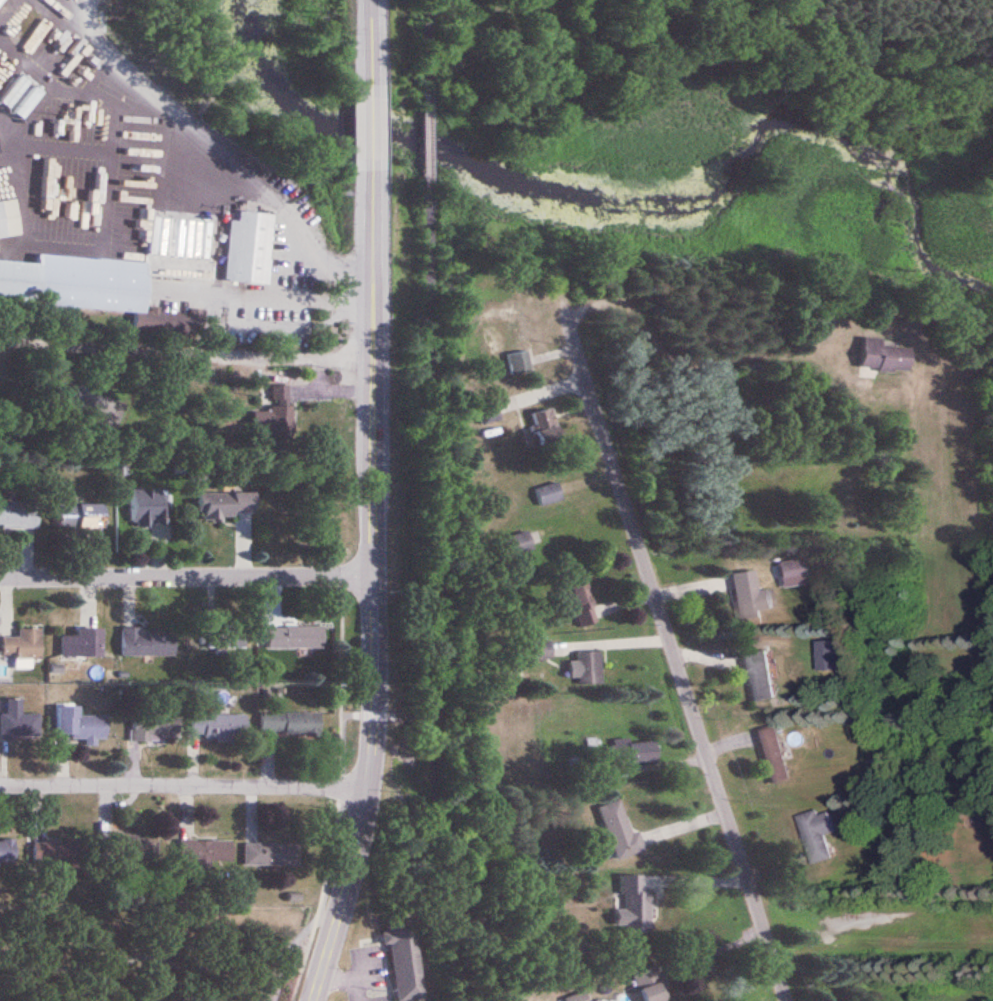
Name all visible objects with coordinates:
building: (1, 2)
road: (427, 46)
road: (370, 49)
road: (371, 129)
building: (45, 135)
road: (429, 142)
road: (193, 186)
building: (9, 219)
building: (250, 249)
building: (90, 289)
building: (516, 347)
road: (185, 349)
building: (886, 357)
road: (696, 363)
building: (276, 413)
building: (546, 429)
building: (228, 505)
building: (149, 508)
building: (19, 516)
building: (81, 517)
building: (516, 546)
building: (793, 570)
road: (186, 578)
road: (373, 584)
road: (434, 597)
building: (752, 597)
building: (584, 603)
building: (295, 638)
building: (215, 639)
road: (612, 641)
building: (149, 642)
building: (78, 644)
building: (23, 648)
road: (674, 659)
building: (590, 669)
building: (507, 677)
building: (761, 677)
building: (19, 723)
building: (79, 725)
building: (290, 725)
building: (189, 727)
building: (636, 753)
building: (775, 756)
road: (199, 787)
building: (621, 832)
building: (820, 836)
building: (138, 849)
building: (207, 852)
building: (7, 853)
building: (57, 854)
building: (271, 855)
building: (634, 907)
road: (714, 951)
park: (154, 953)
building: (405, 963)
building: (651, 985)
building: (578, 998)

